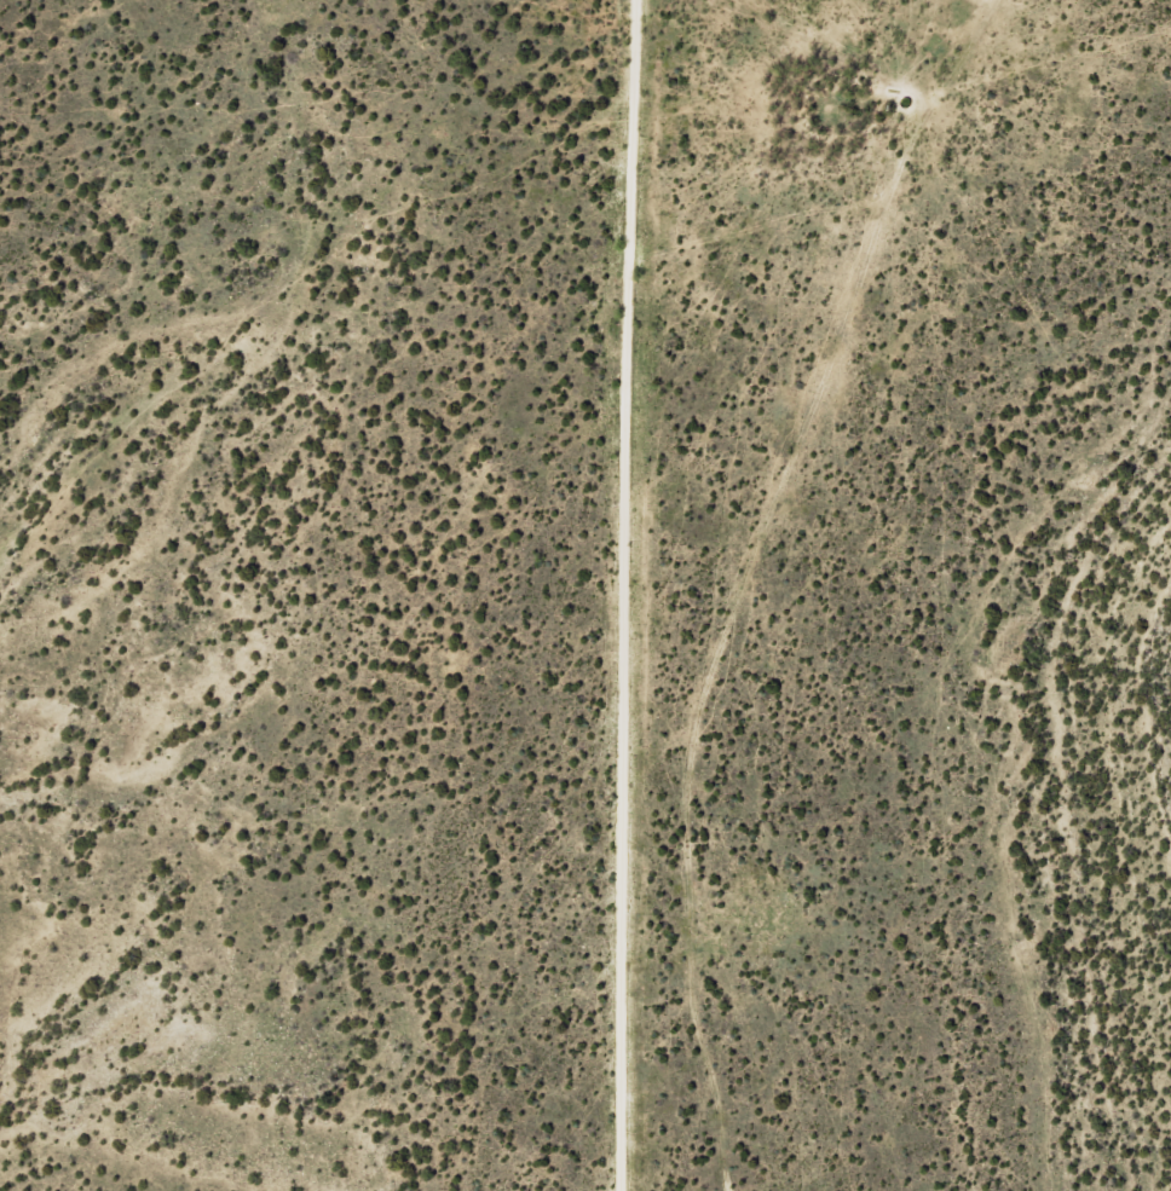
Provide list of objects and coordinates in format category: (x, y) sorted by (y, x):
road: (743, 579)

